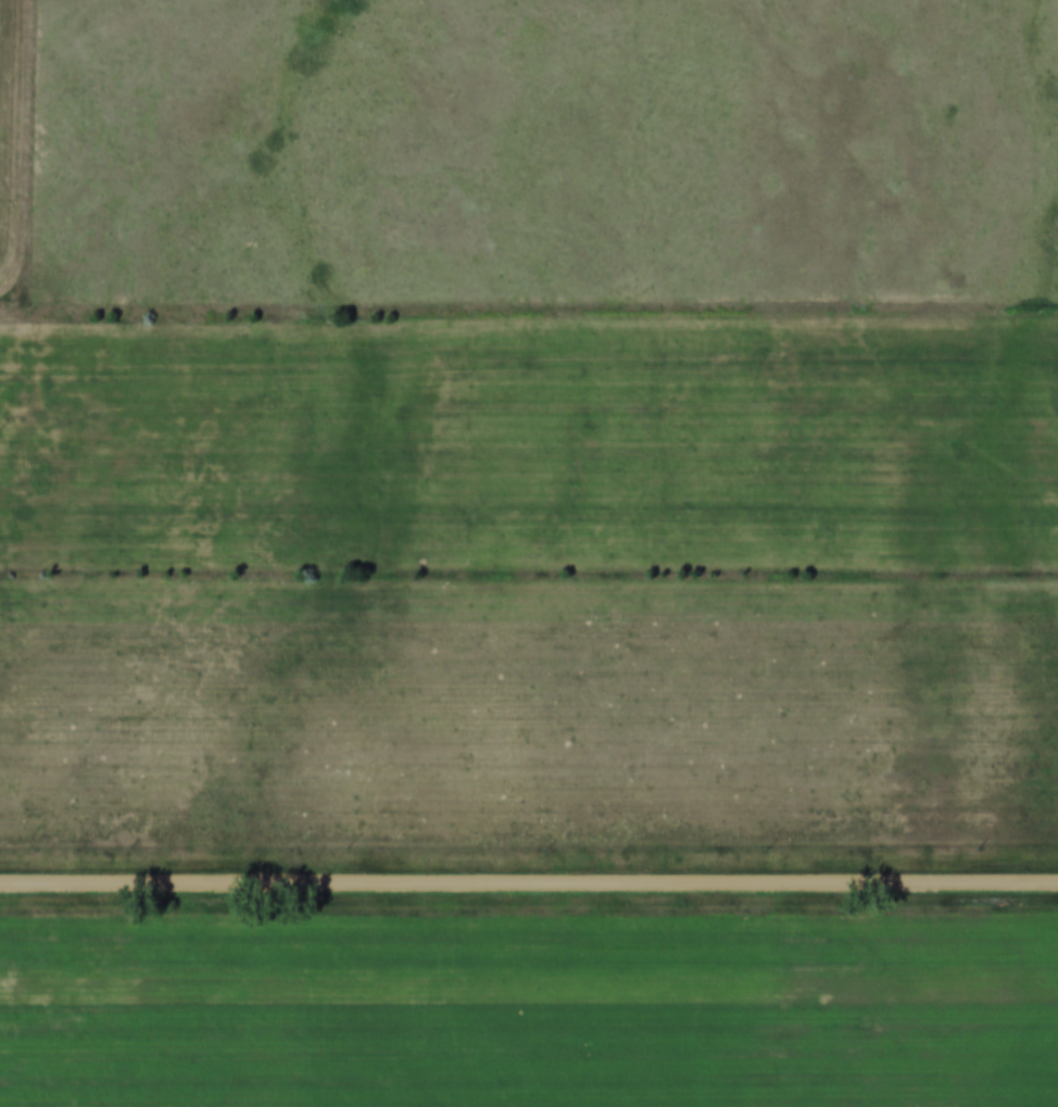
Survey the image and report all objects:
road: (529, 879)

